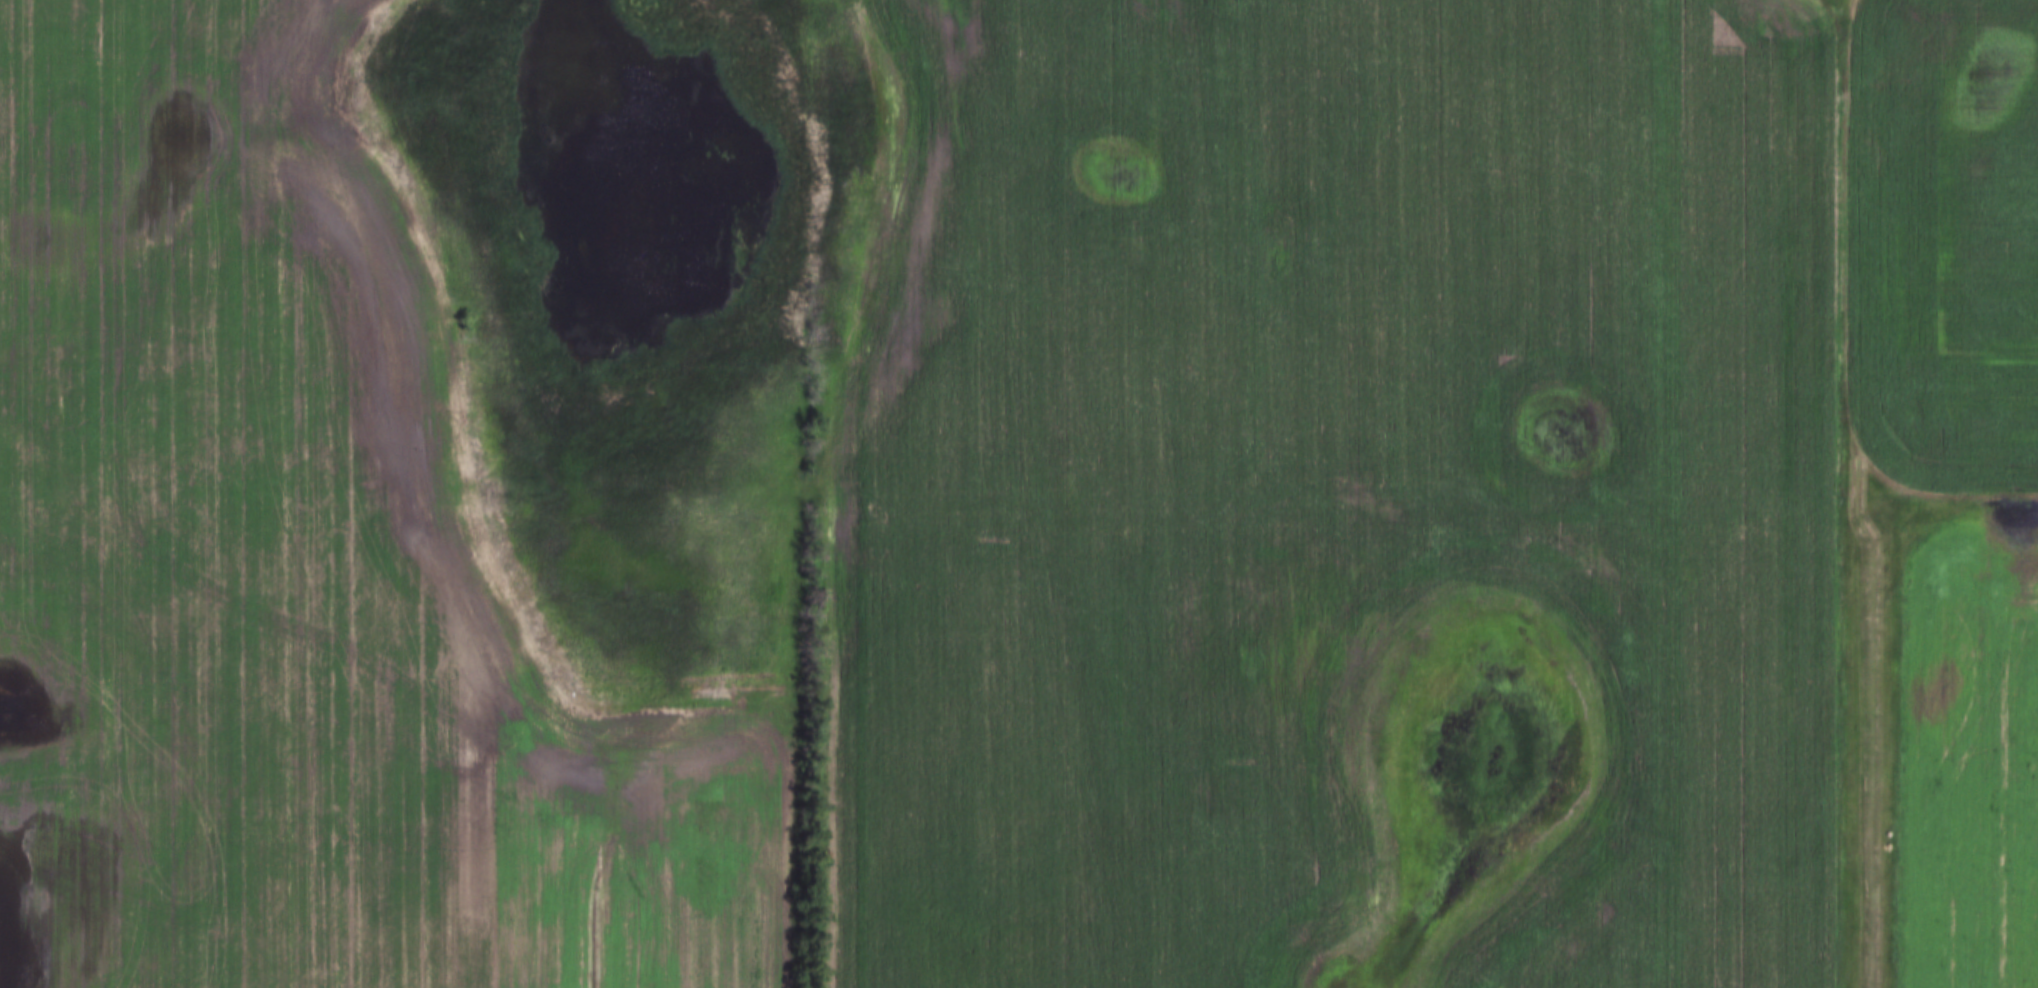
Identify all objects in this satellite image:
road: (1851, 493)

